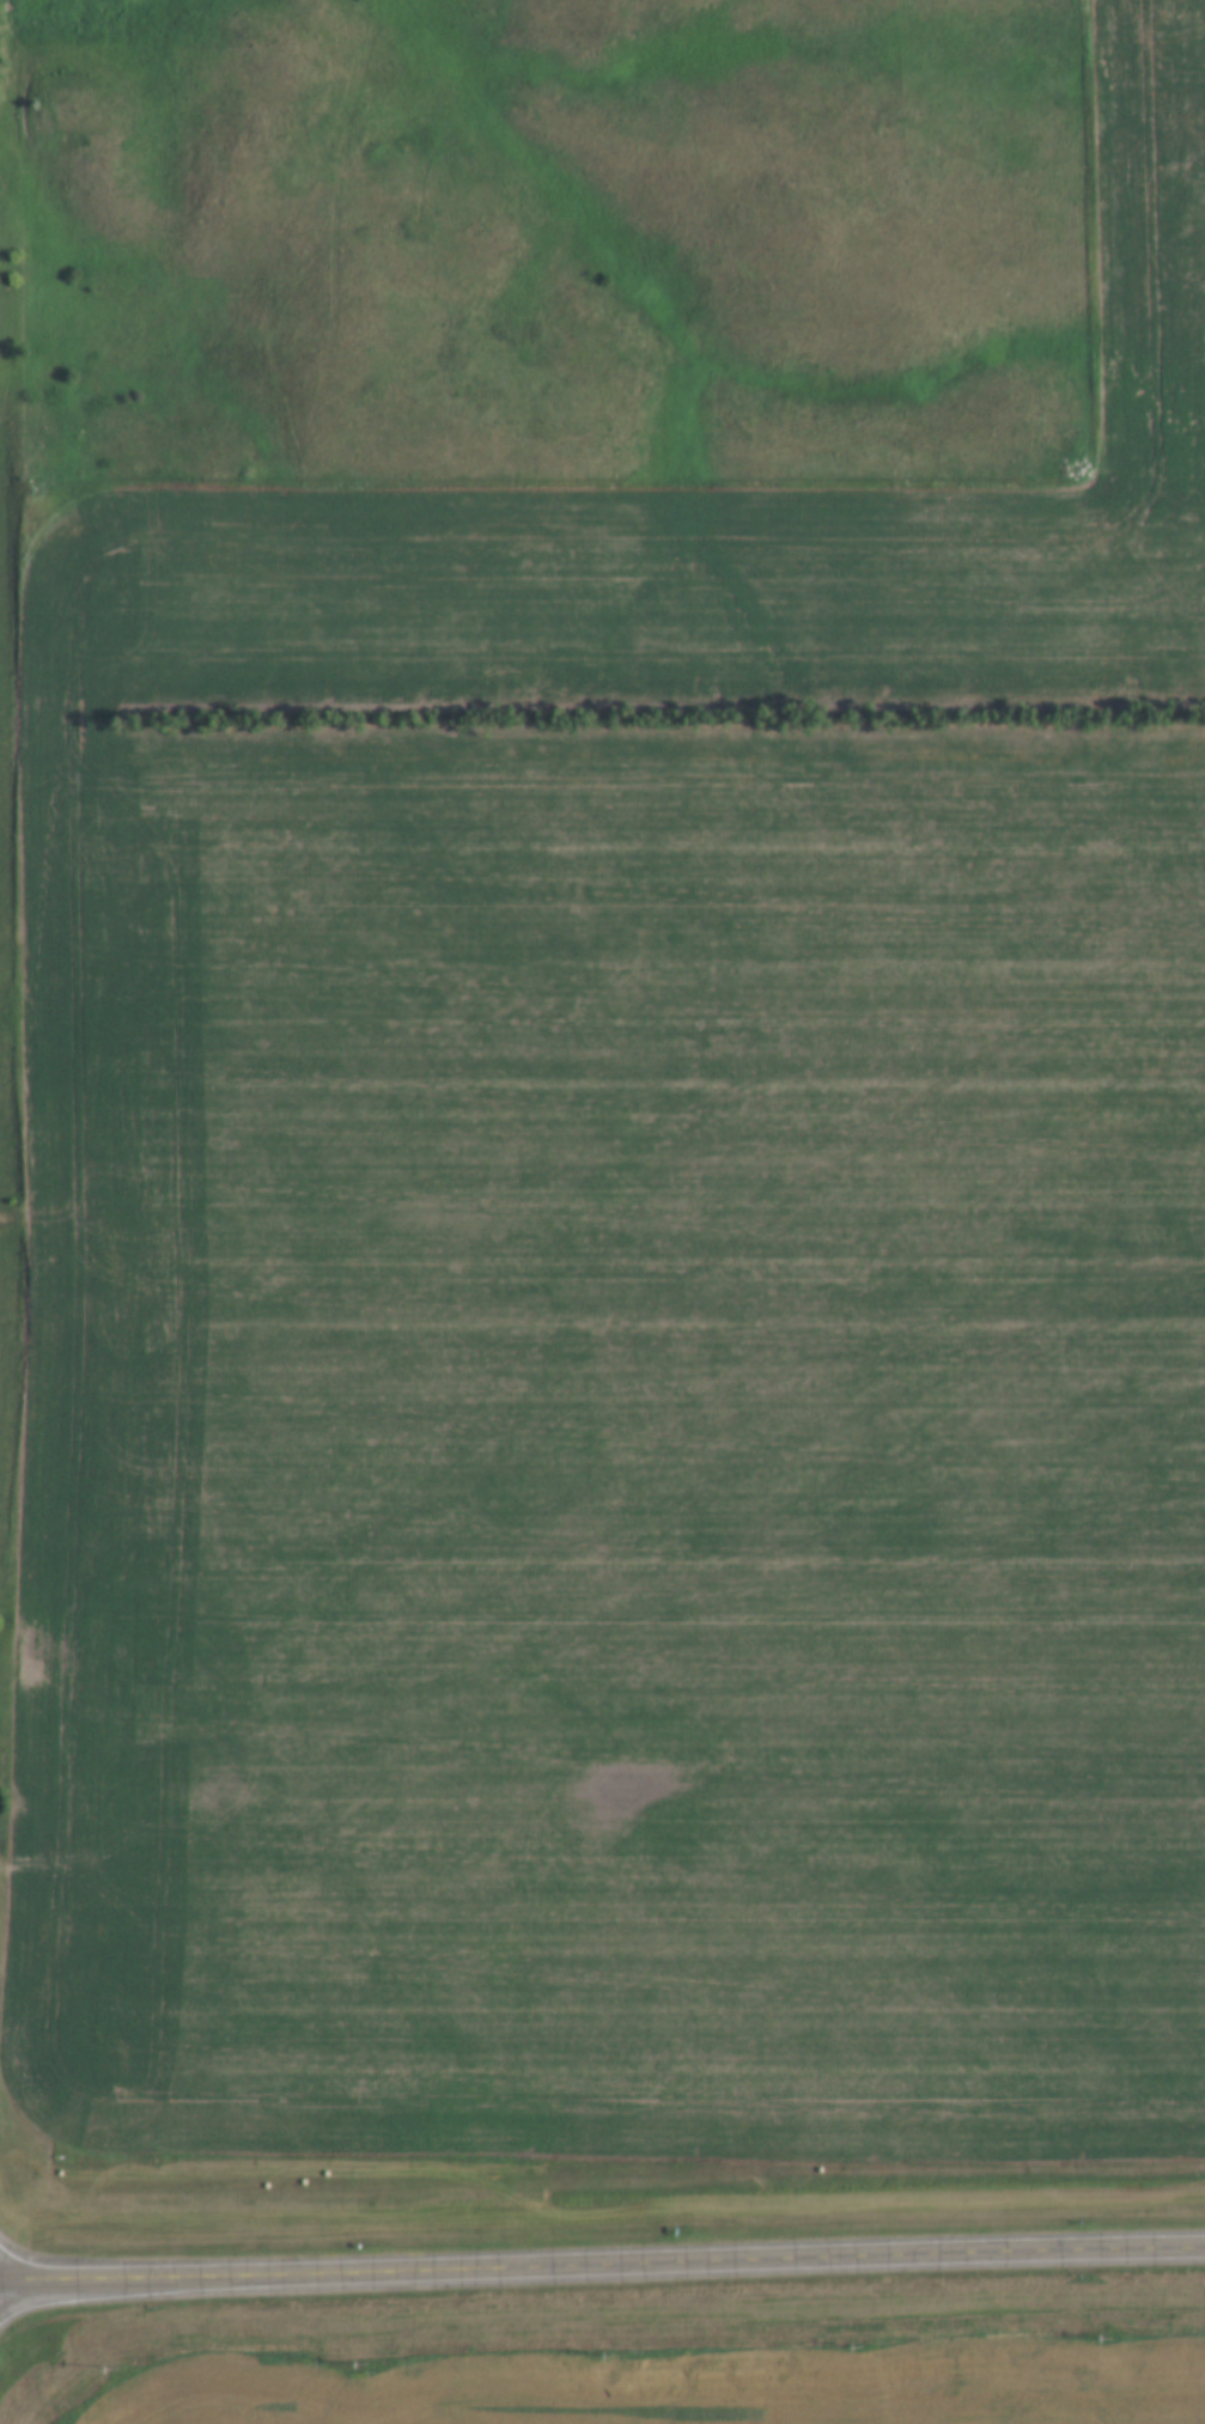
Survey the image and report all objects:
road: (602, 2261)

